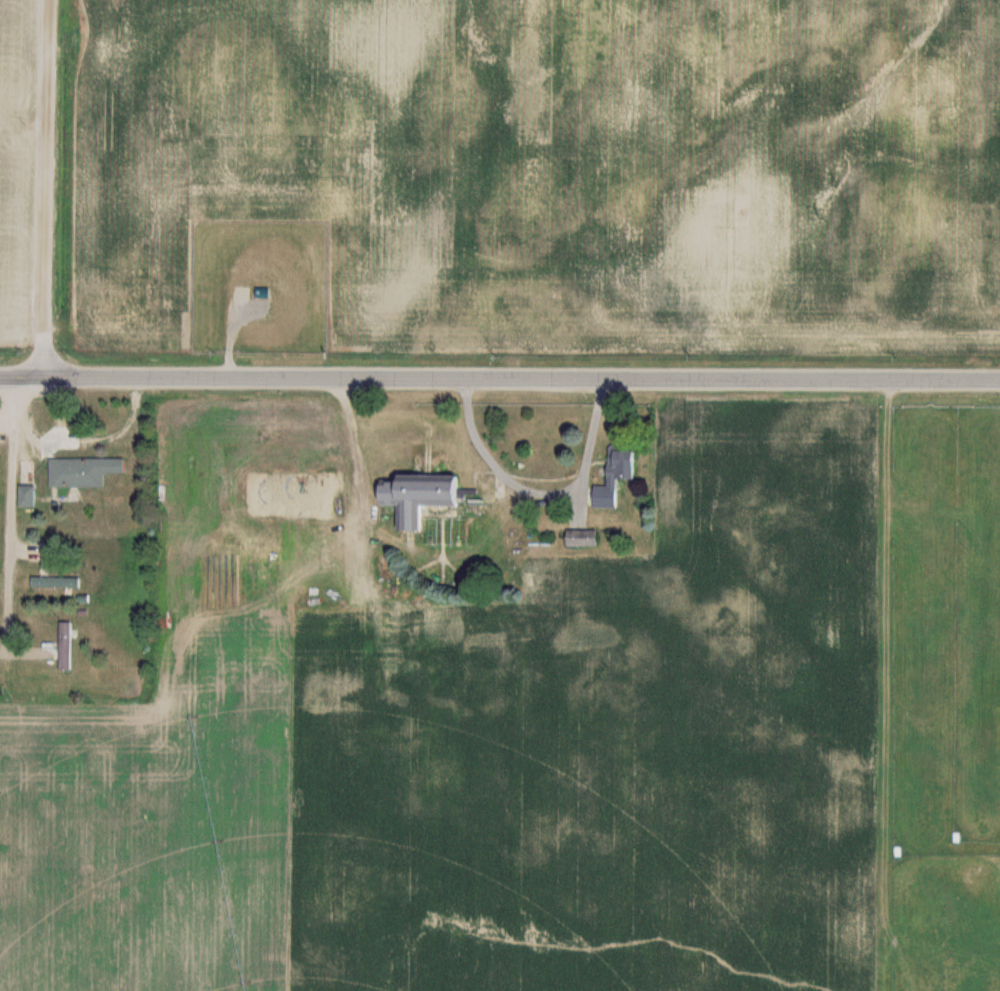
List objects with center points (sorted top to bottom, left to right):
road: (48, 188)
road: (500, 378)
road: (14, 401)
building: (630, 463)
building: (89, 471)
road: (540, 493)
building: (30, 496)
building: (425, 497)
road: (10, 530)
building: (585, 539)
building: (59, 583)
building: (69, 646)

